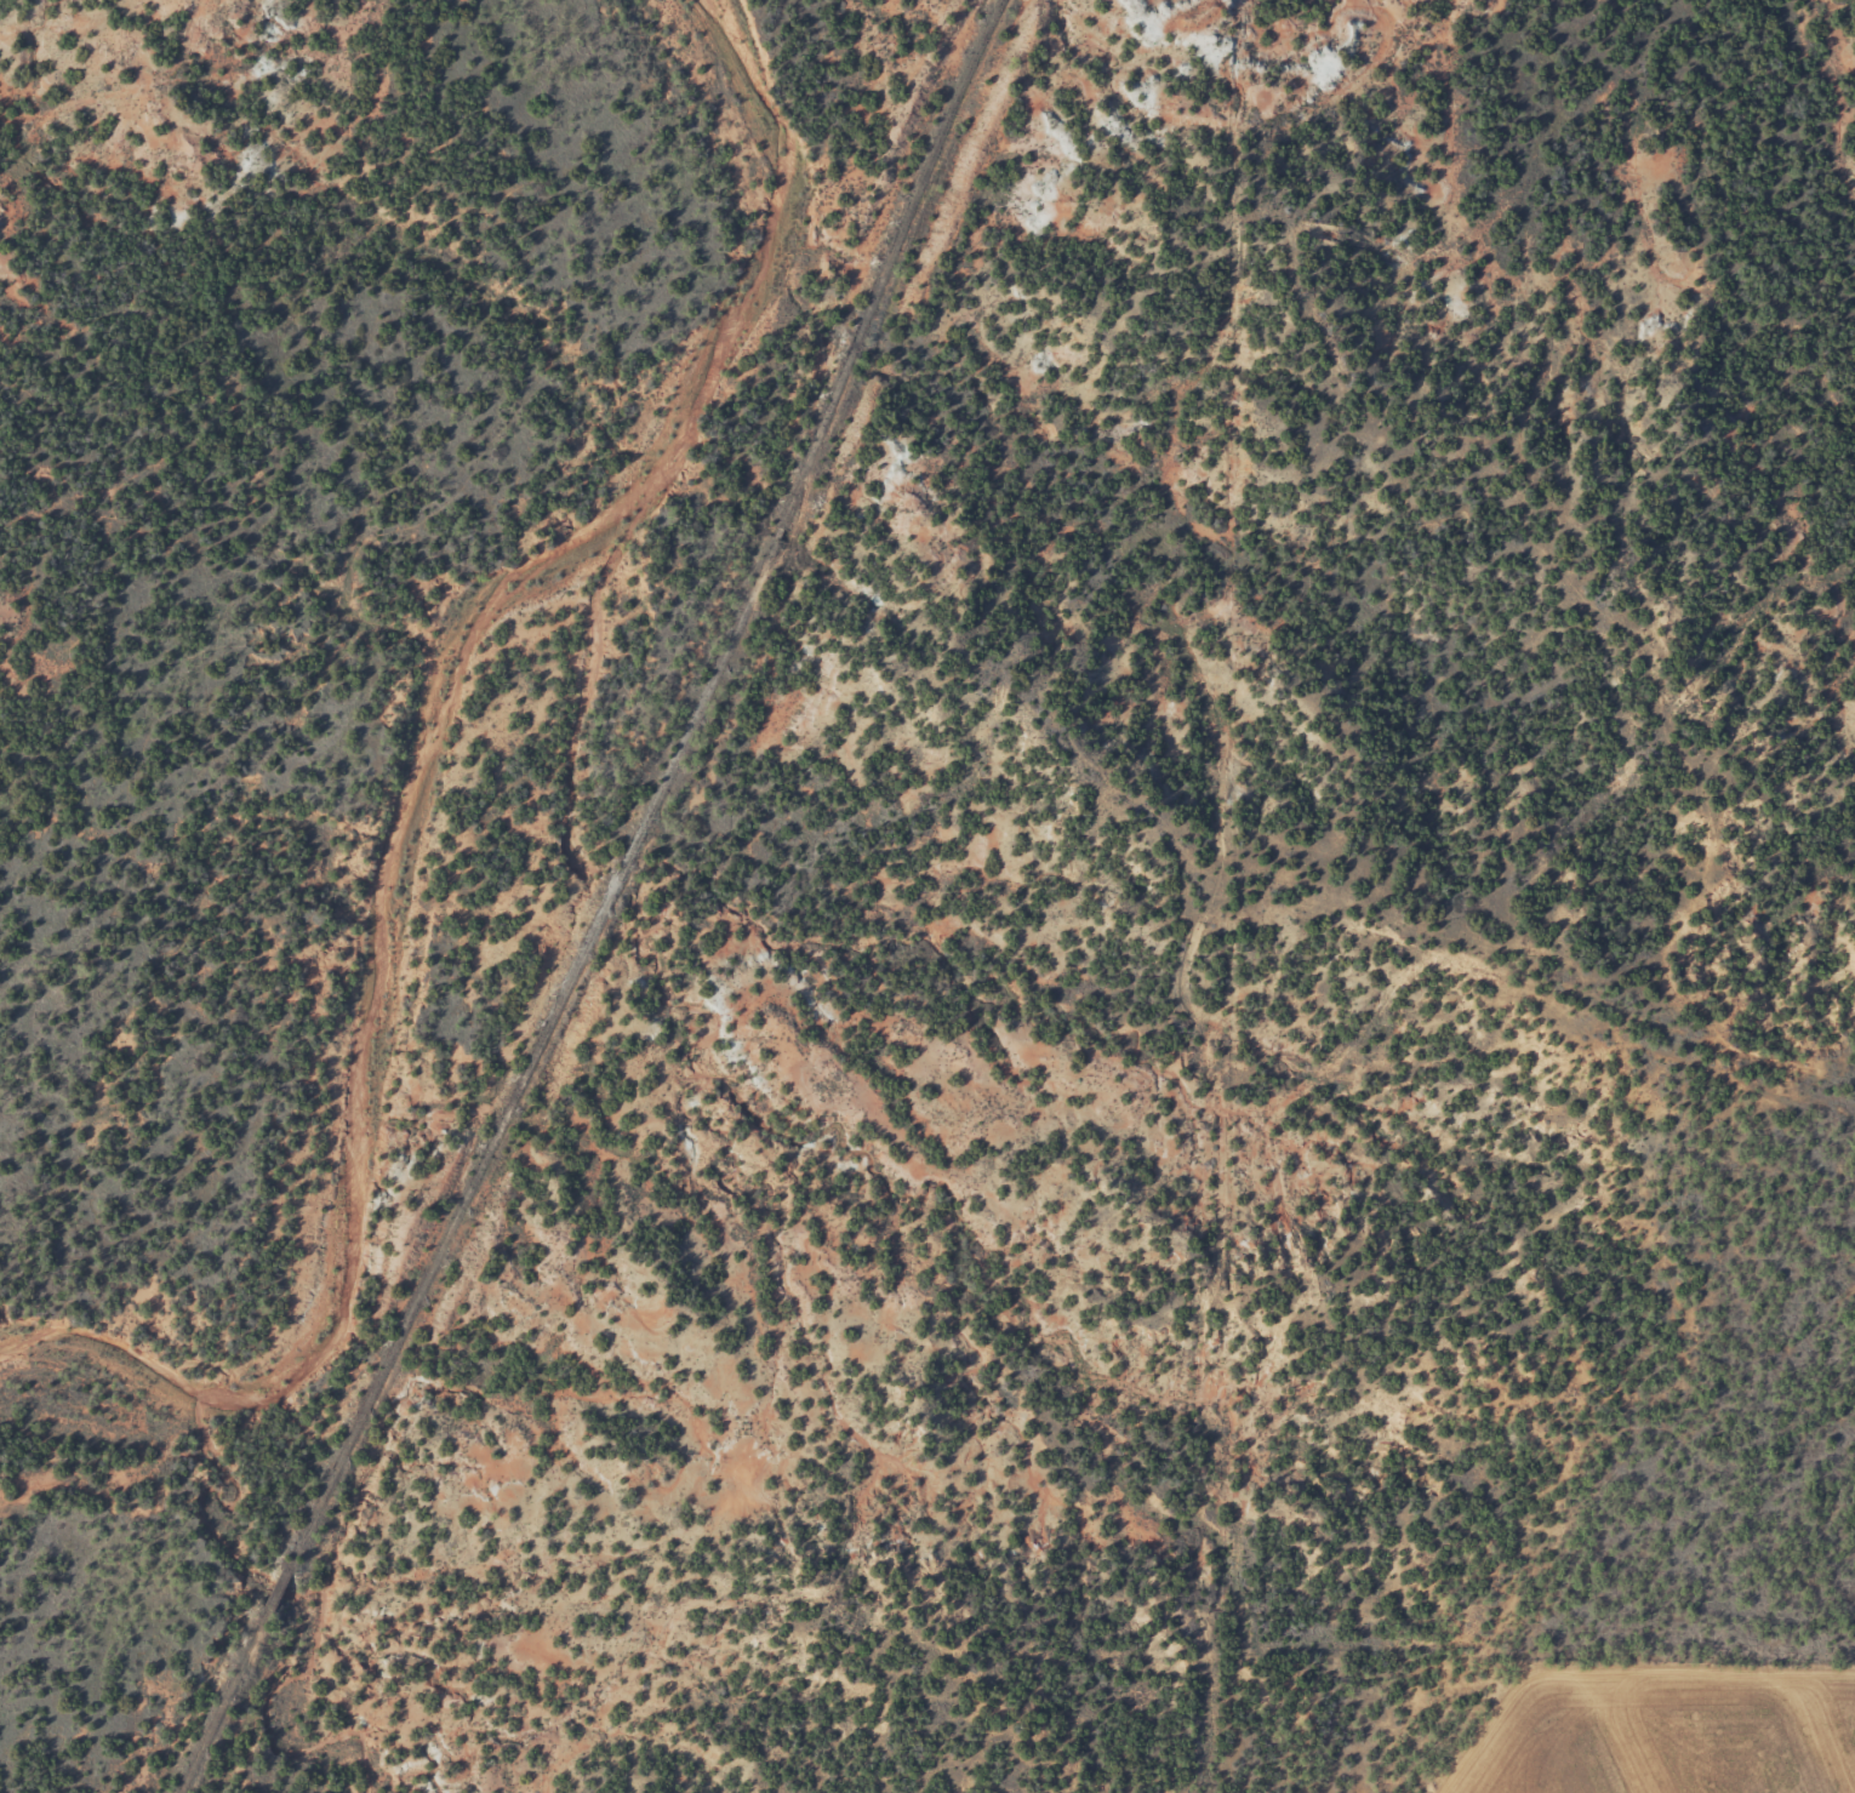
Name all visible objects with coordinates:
railway: (623, 906)

